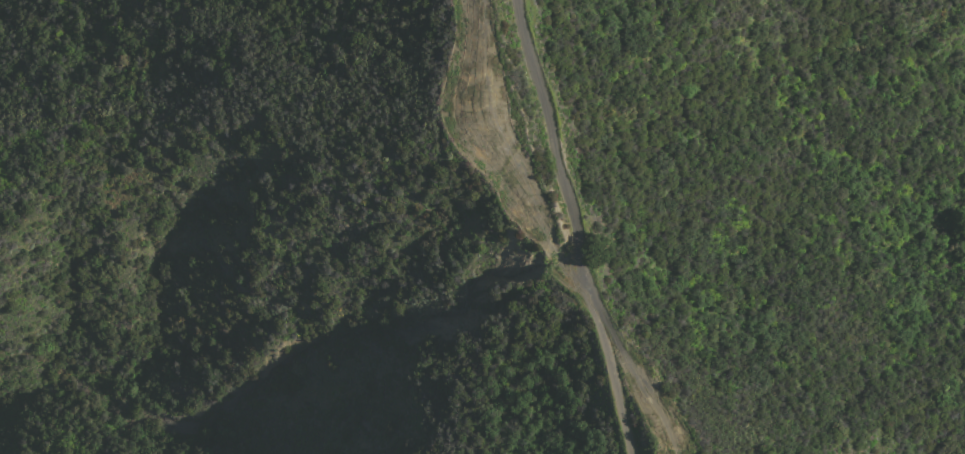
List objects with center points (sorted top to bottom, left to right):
road: (518, 158)
road: (576, 226)
road: (645, 387)

